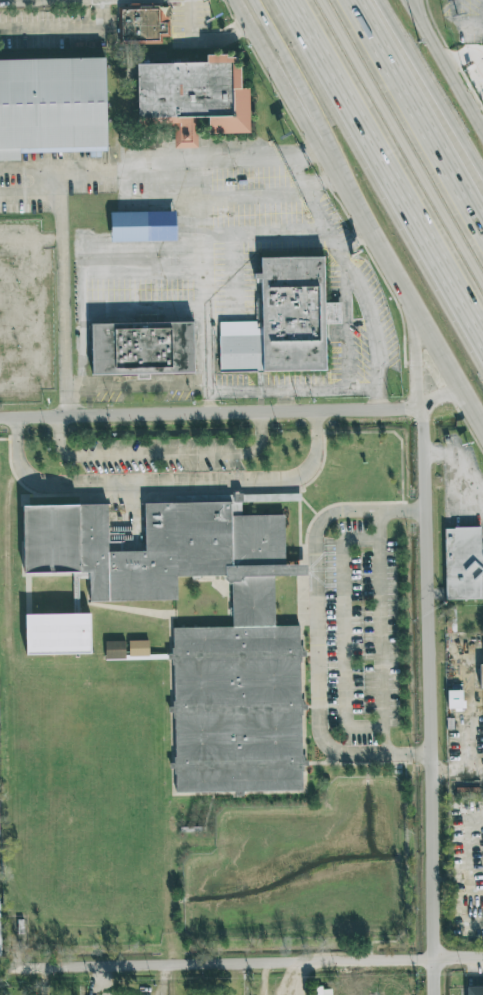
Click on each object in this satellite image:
road: (55, 1)
road: (421, 12)
building: (140, 24)
road: (198, 40)
road: (471, 49)
road: (446, 62)
road: (475, 63)
road: (432, 83)
building: (190, 92)
road: (291, 94)
road: (299, 94)
road: (476, 98)
road: (424, 104)
building: (52, 106)
road: (405, 133)
road: (302, 156)
road: (234, 157)
road: (154, 159)
road: (28, 169)
road: (88, 172)
road: (383, 179)
road: (192, 183)
road: (317, 183)
road: (38, 192)
road: (250, 197)
building: (142, 226)
road: (225, 249)
road: (63, 287)
road: (414, 310)
road: (172, 314)
building: (290, 322)
road: (372, 324)
road: (78, 326)
building: (149, 348)
road: (205, 349)
road: (425, 368)
road: (144, 385)
road: (209, 389)
road: (330, 389)
road: (237, 392)
road: (66, 399)
road: (443, 400)
road: (213, 411)
road: (316, 428)
road: (261, 430)
road: (139, 454)
road: (145, 485)
building: (464, 565)
building: (208, 630)
road: (381, 631)
road: (319, 632)
building: (57, 634)
road: (343, 634)
building: (138, 648)
building: (115, 650)
building: (480, 676)
building: (454, 699)
road: (430, 701)
road: (457, 777)
building: (0, 942)
road: (243, 962)
road: (294, 978)
building: (474, 990)
building: (322, 991)

